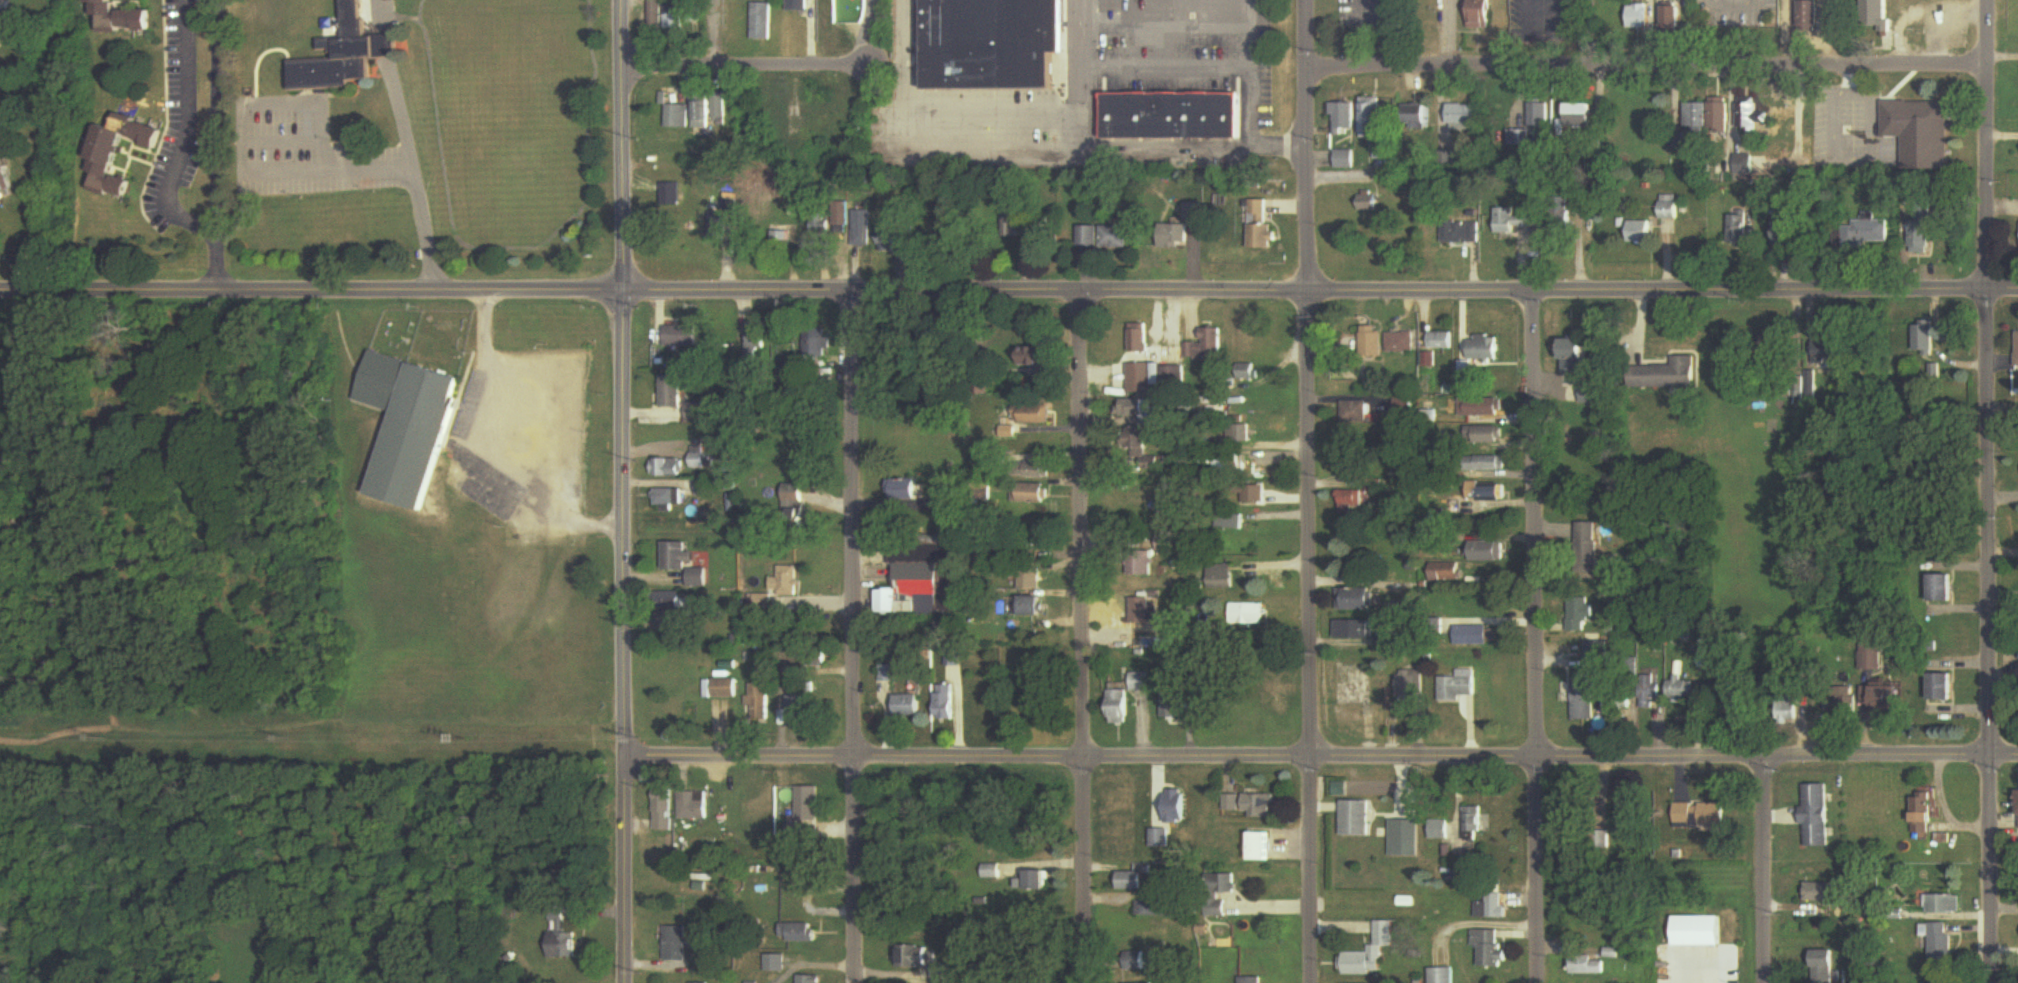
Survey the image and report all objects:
road: (1735, 0)
building: (798, 5)
road: (1563, 5)
building: (654, 14)
building: (1482, 14)
building: (1809, 16)
building: (1639, 17)
building: (1877, 17)
building: (120, 18)
building: (1672, 19)
building: (2, 20)
building: (760, 22)
road: (871, 35)
building: (996, 44)
building: (345, 57)
road: (1128, 65)
road: (735, 69)
road: (1648, 73)
road: (1243, 97)
road: (1731, 102)
road: (280, 104)
building: (717, 109)
building: (699, 113)
building: (1463, 116)
building: (675, 117)
building: (1173, 117)
building: (1580, 117)
building: (1720, 117)
building: (1751, 117)
building: (1373, 118)
building: (1418, 118)
building: (1697, 118)
building: (1345, 120)
road: (952, 122)
building: (1534, 129)
road: (186, 130)
building: (1919, 133)
road: (217, 145)
building: (92, 151)
building: (4, 178)
road: (412, 183)
building: (669, 195)
building: (1369, 203)
building: (1669, 209)
building: (1516, 221)
building: (839, 223)
building: (819, 224)
building: (717, 226)
building: (860, 229)
building: (1260, 230)
building: (1741, 231)
building: (1787, 232)
building: (1641, 233)
building: (1462, 234)
building: (1866, 234)
building: (777, 236)
building: (1089, 238)
building: (1174, 238)
building: (891, 239)
building: (1116, 239)
building: (1920, 239)
road: (1008, 295)
building: (681, 337)
building: (1925, 339)
building: (1143, 340)
building: (1442, 341)
building: (1400, 343)
building: (758, 344)
building: (1372, 344)
building: (1209, 347)
building: (1486, 349)
building: (818, 351)
building: (2017, 351)
building: (1577, 357)
building: (1035, 358)
building: (1815, 366)
building: (1249, 373)
building: (1668, 375)
building: (1145, 379)
building: (1179, 380)
building: (820, 387)
building: (671, 392)
building: (1593, 395)
building: (1405, 406)
building: (1483, 408)
building: (1146, 411)
building: (696, 413)
building: (1356, 413)
building: (1034, 415)
building: (412, 427)
building: (1241, 434)
building: (1487, 435)
road: (506, 444)
building: (1147, 450)
building: (698, 462)
building: (1487, 464)
building: (1231, 465)
building: (1036, 468)
building: (668, 469)
building: (707, 489)
building: (903, 490)
road: (622, 491)
road: (1309, 491)
road: (1989, 491)
building: (1032, 494)
building: (1489, 494)
building: (1253, 495)
building: (1350, 498)
building: (669, 499)
building: (795, 505)
building: (1589, 548)
building: (1491, 552)
building: (1143, 561)
building: (685, 564)
building: (1447, 573)
building: (1222, 577)
building: (918, 578)
building: (1034, 578)
building: (779, 587)
building: (1943, 590)
building: (1357, 600)
building: (676, 605)
building: (1035, 606)
building: (1143, 611)
building: (1582, 614)
building: (1248, 615)
building: (1354, 630)
building: (1474, 636)
road: (852, 639)
road: (1082, 639)
road: (1534, 640)
building: (1871, 654)
building: (1593, 656)
building: (815, 659)
building: (888, 673)
building: (1141, 682)
building: (1409, 686)
building: (1458, 686)
building: (1943, 687)
building: (725, 689)
building: (1649, 689)
building: (1682, 690)
building: (1875, 696)
building: (1842, 701)
building: (759, 702)
building: (946, 702)
building: (1280, 704)
building: (1584, 704)
building: (1173, 705)
building: (910, 706)
building: (1121, 707)
building: (1791, 709)
building: (793, 711)
road: (1321, 755)
building: (1232, 803)
building: (692, 806)
building: (1177, 807)
building: (1261, 807)
building: (663, 811)
building: (1924, 814)
building: (795, 815)
building: (1817, 815)
building: (1701, 816)
building: (1357, 819)
building: (1626, 819)
building: (1474, 823)
building: (1440, 830)
building: (1601, 837)
building: (1161, 838)
building: (1406, 838)
building: (1261, 847)
building: (993, 871)
road: (1763, 871)
building: (1134, 879)
building: (1040, 880)
building: (1226, 883)
building: (1822, 892)
building: (1949, 904)
building: (1155, 908)
building: (1217, 909)
building: (799, 933)
building: (561, 937)
building: (677, 944)
building: (1941, 944)
building: (1490, 948)
building: (1371, 953)
building: (918, 957)
building: (1140, 962)
building: (778, 963)
building: (1583, 963)
building: (1825, 966)
building: (1442, 975)
building: (811, 979)
building: (1251, 980)
building: (1936, 982)

